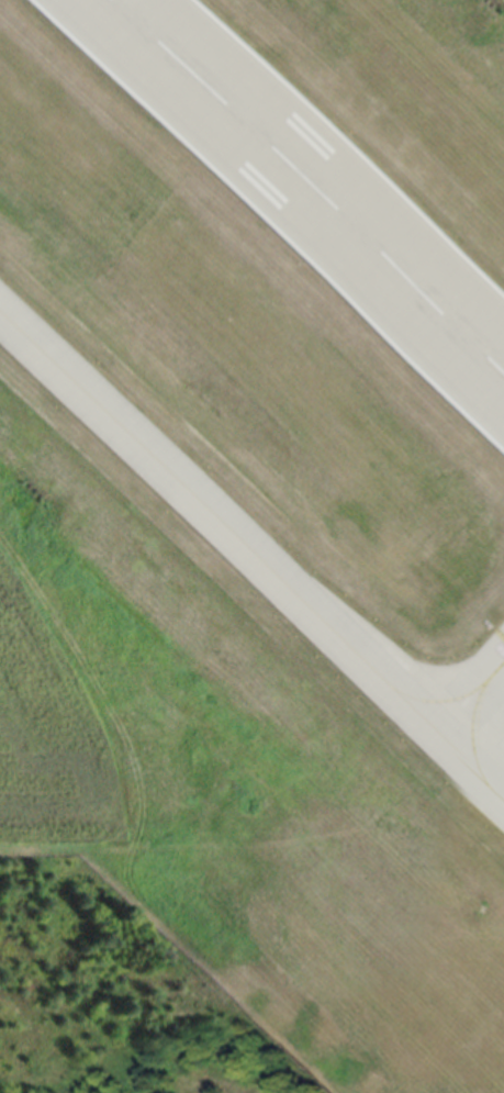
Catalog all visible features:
airport runway: (306, 188)
airport: (265, 500)
airport taxiway: (251, 557)
airport taxiway: (439, 700)
airport taxiway: (473, 721)

